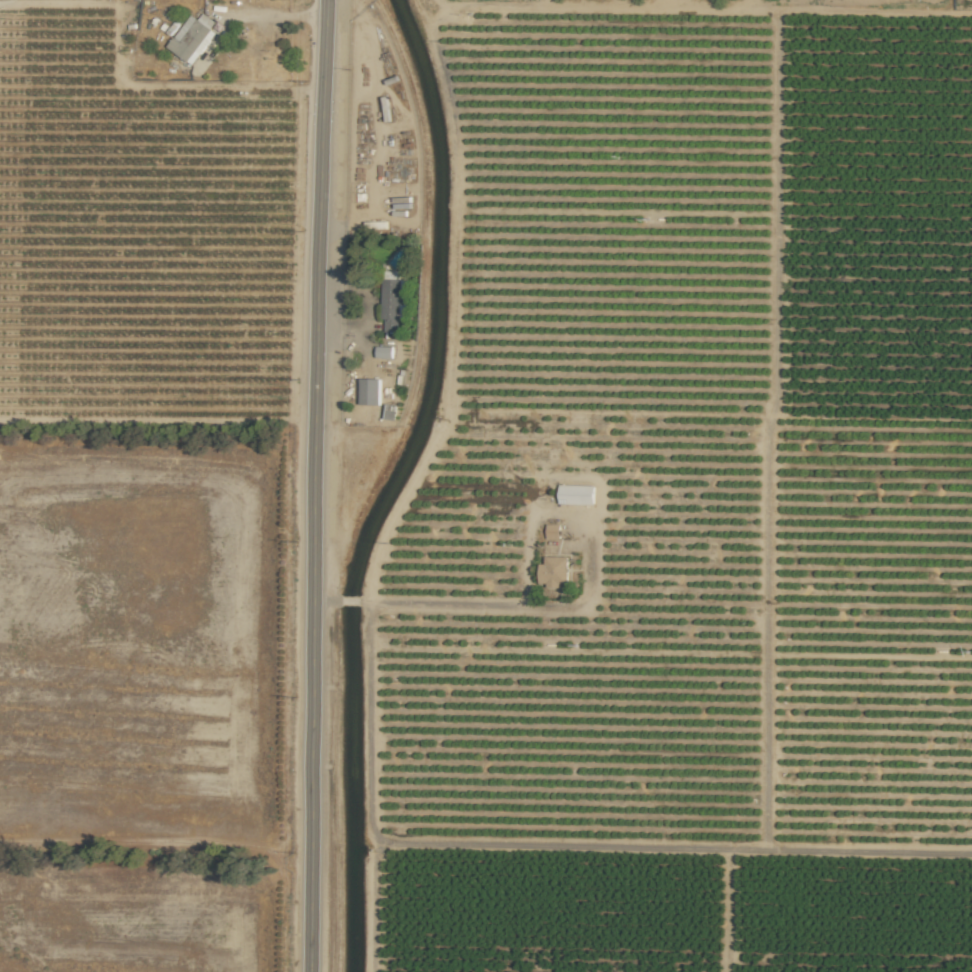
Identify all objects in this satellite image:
building: (193, 37)
road: (216, 48)
building: (393, 301)
building: (384, 351)
building: (369, 391)
building: (391, 411)
road: (315, 485)
building: (576, 494)
building: (553, 531)
building: (553, 571)
road: (326, 601)
road: (350, 602)
road: (514, 608)
road: (556, 845)

